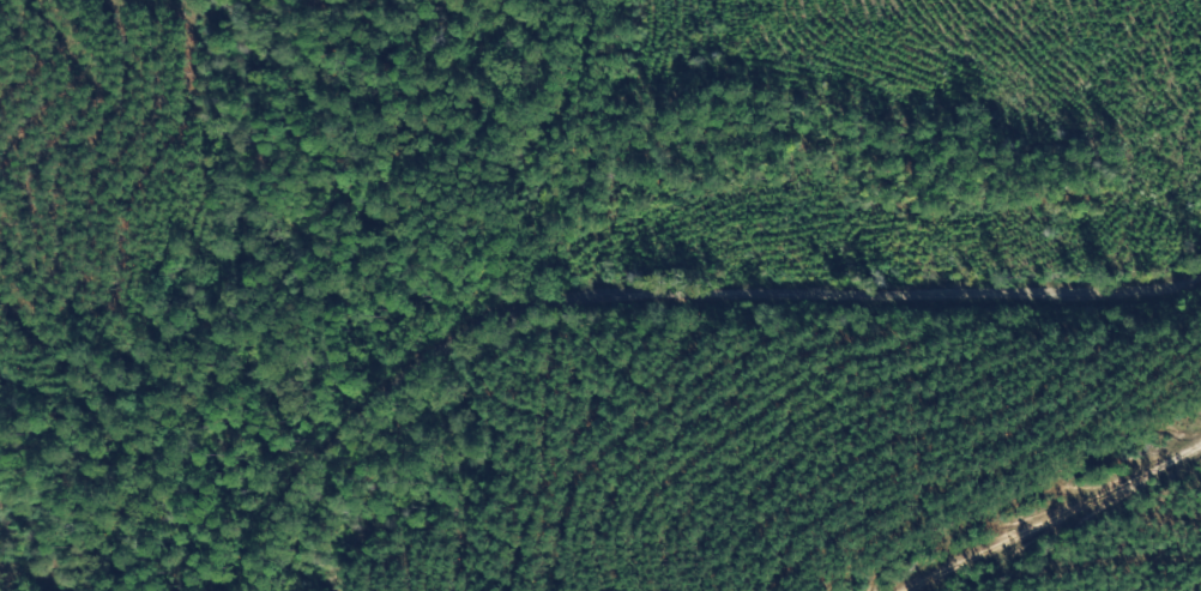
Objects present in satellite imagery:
road: (651, 298)
road: (1050, 519)

